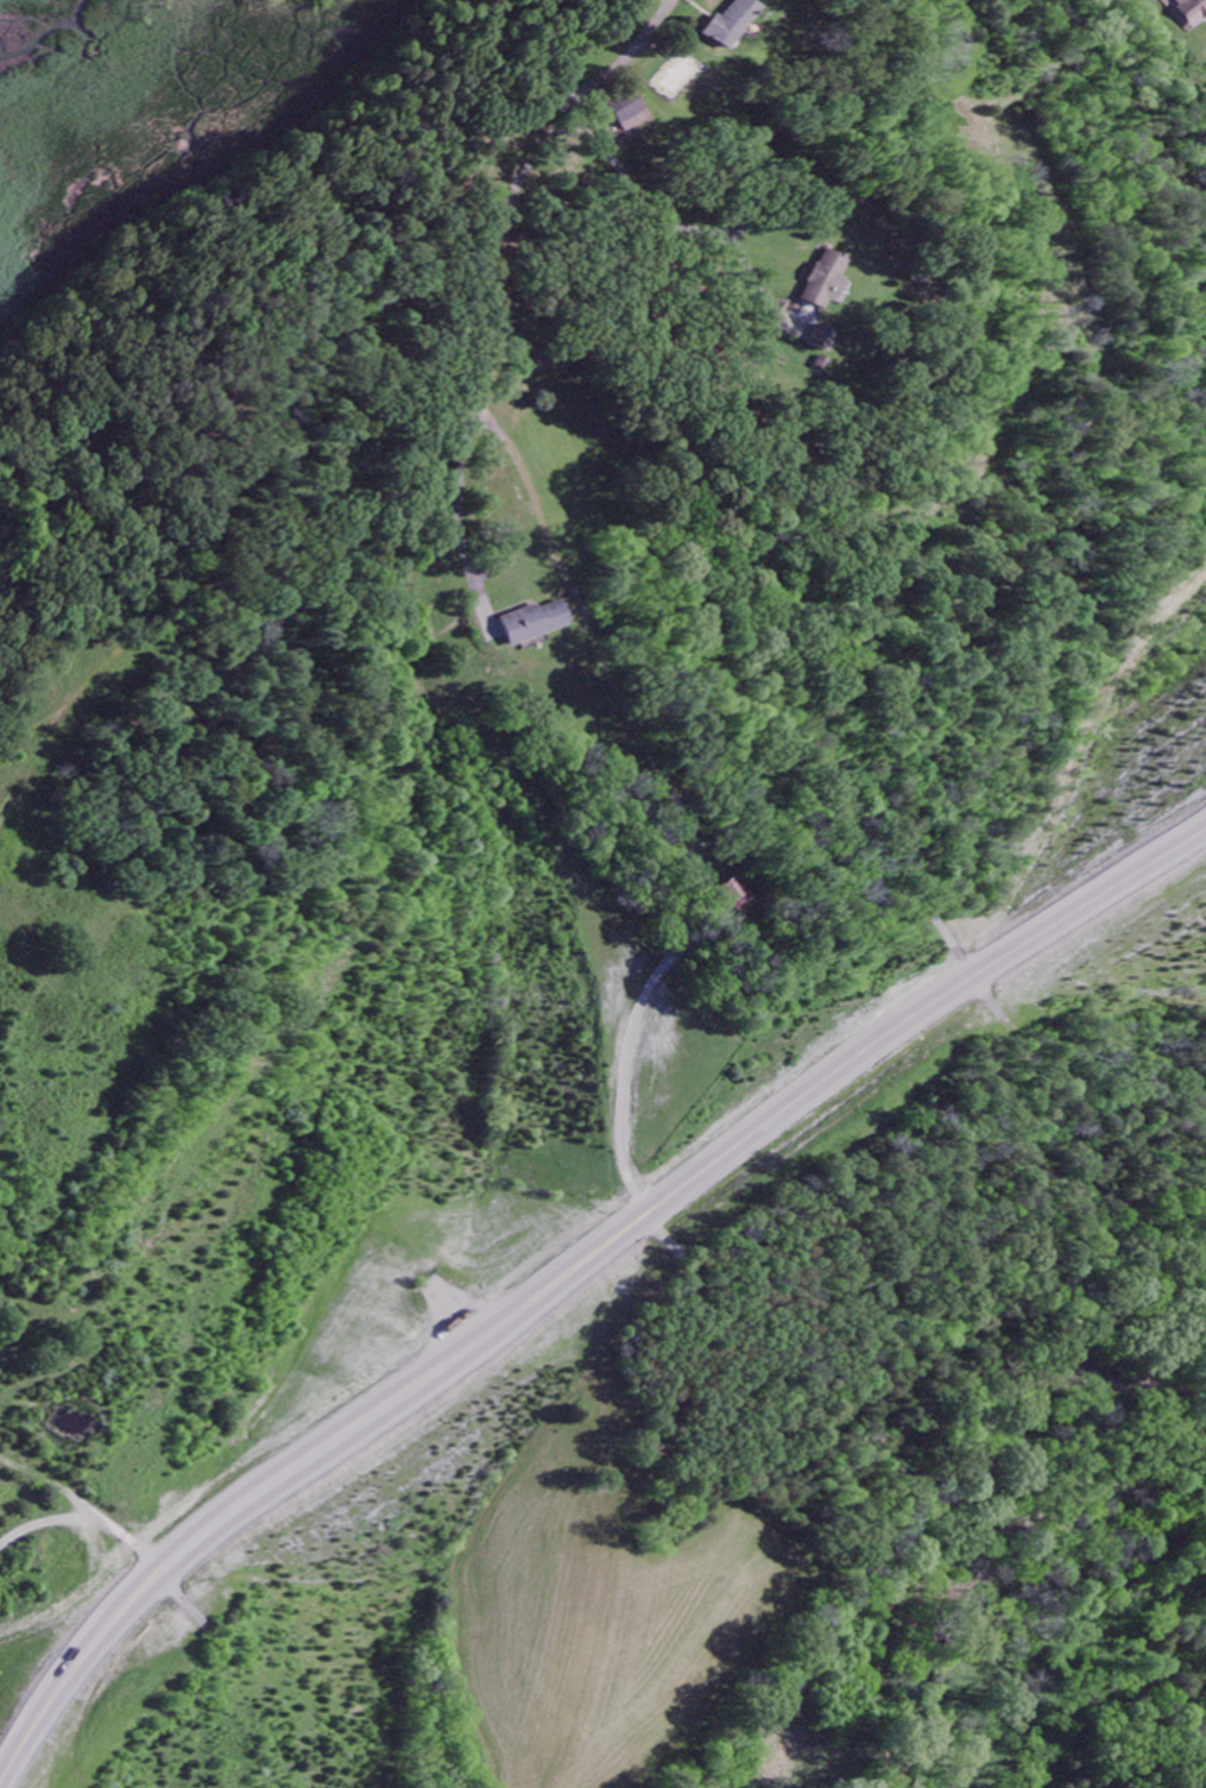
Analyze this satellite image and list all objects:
building: (1187, 11)
building: (730, 23)
building: (632, 113)
road: (492, 266)
building: (826, 281)
building: (821, 339)
building: (535, 623)
road: (580, 655)
building: (740, 895)
road: (575, 1264)

